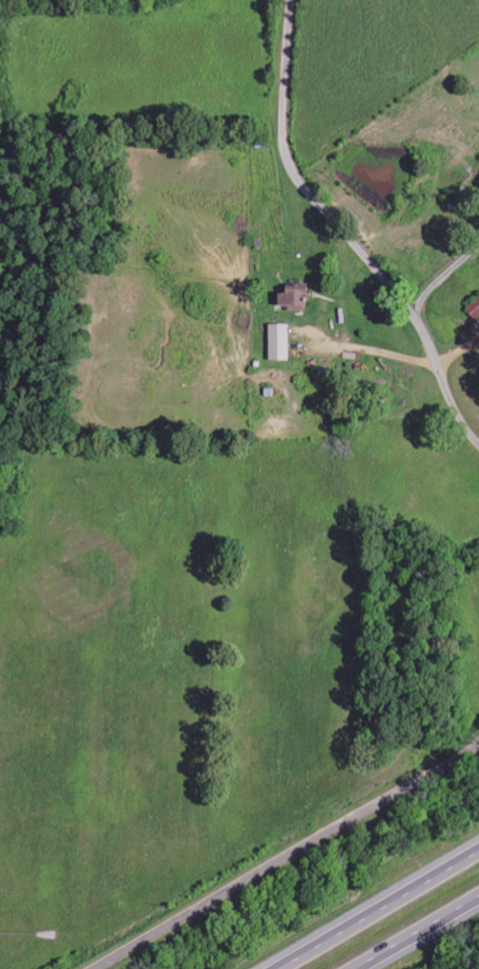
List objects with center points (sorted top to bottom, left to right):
road: (343, 231)
building: (474, 309)
building: (279, 342)
road: (289, 857)
road: (375, 907)
road: (420, 934)

